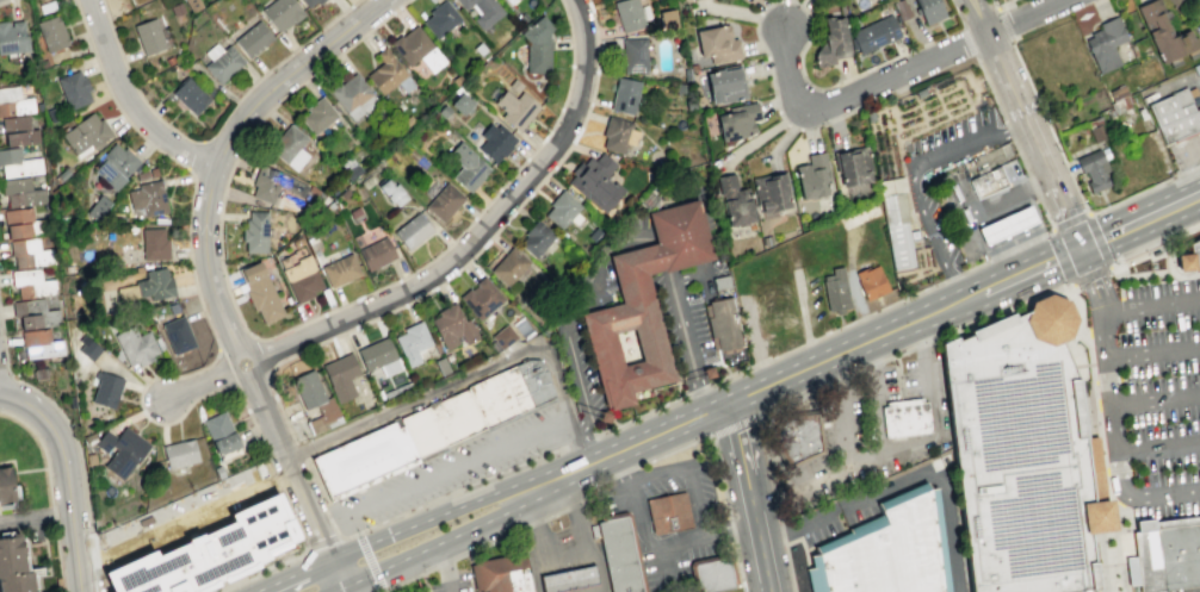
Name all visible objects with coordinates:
building: (511, 0)
road: (2, 1)
building: (1175, 1)
building: (309, 2)
road: (998, 4)
building: (902, 7)
building: (484, 10)
building: (930, 10)
building: (282, 12)
road: (757, 13)
road: (954, 13)
building: (627, 14)
parking lot: (1195, 14)
building: (440, 17)
building: (667, 20)
building: (1163, 31)
building: (874, 32)
building: (51, 33)
building: (12, 36)
building: (148, 36)
building: (254, 38)
building: (833, 38)
building: (717, 42)
building: (538, 43)
building: (1105, 43)
building: (416, 46)
building: (632, 54)
road: (977, 54)
road: (913, 57)
parking lot: (1199, 63)
building: (223, 64)
road: (289, 73)
building: (389, 73)
road: (897, 75)
road: (903, 80)
parking lot: (1198, 80)
building: (724, 82)
building: (74, 88)
road: (1009, 88)
road: (990, 91)
building: (1190, 91)
building: (1117, 92)
building: (353, 94)
building: (624, 94)
building: (190, 95)
building: (505, 98)
road: (129, 100)
building: (13, 101)
building: (460, 104)
building: (443, 110)
building: (520, 110)
building: (316, 112)
building: (1174, 114)
building: (737, 119)
building: (18, 131)
road: (1008, 131)
building: (1099, 131)
building: (614, 132)
road: (214, 133)
building: (86, 135)
building: (495, 142)
building: (289, 147)
road: (1198, 148)
parking lot: (1183, 151)
building: (985, 160)
building: (17, 163)
building: (854, 163)
building: (113, 166)
building: (468, 166)
road: (916, 166)
building: (1093, 169)
building: (352, 172)
building: (146, 173)
building: (62, 174)
building: (811, 174)
building: (595, 180)
building: (986, 181)
building: (271, 183)
road: (1072, 183)
building: (21, 191)
building: (391, 191)
building: (771, 191)
building: (147, 198)
building: (734, 199)
building: (444, 201)
building: (97, 207)
building: (562, 207)
road: (1064, 212)
building: (355, 214)
parking lot: (940, 218)
road: (1140, 222)
building: (23, 223)
building: (897, 224)
building: (1007, 225)
building: (413, 230)
building: (255, 231)
road: (476, 233)
road: (493, 233)
building: (536, 236)
building: (153, 243)
road: (1156, 247)
traffic signals: (1081, 250)
road: (1004, 251)
building: (1153, 251)
building: (1194, 251)
building: (30, 253)
building: (376, 253)
road: (661, 253)
road: (1162, 254)
building: (1183, 262)
building: (508, 264)
road: (595, 266)
building: (340, 269)
road: (191, 272)
road: (1142, 272)
road: (1020, 275)
road: (1183, 275)
building: (302, 278)
road: (1093, 280)
building: (870, 281)
building: (31, 282)
road: (1072, 285)
building: (148, 286)
road: (955, 288)
building: (260, 289)
building: (835, 289)
building: (481, 297)
road: (858, 303)
building: (642, 304)
road: (1150, 305)
parking lot: (689, 309)
building: (32, 312)
road: (804, 317)
road: (862, 317)
building: (451, 325)
road: (291, 328)
building: (723, 329)
road: (836, 329)
building: (177, 335)
building: (503, 335)
building: (412, 341)
road: (685, 341)
road: (808, 342)
building: (39, 343)
building: (137, 345)
building: (87, 347)
road: (915, 347)
road: (843, 349)
road: (1152, 351)
building: (376, 353)
road: (259, 356)
building: (447, 357)
road: (755, 364)
road: (243, 366)
building: (440, 366)
road: (228, 370)
road: (5, 373)
road: (576, 374)
building: (340, 375)
road: (1106, 379)
building: (533, 380)
road: (203, 382)
road: (445, 384)
building: (105, 390)
parking lot: (1149, 391)
road: (698, 392)
building: (497, 395)
road: (1153, 399)
building: (315, 400)
road: (935, 405)
road: (878, 412)
road: (731, 413)
building: (456, 417)
road: (639, 417)
building: (903, 417)
road: (1090, 417)
road: (284, 418)
road: (571, 424)
road: (735, 424)
road: (583, 425)
road: (255, 428)
building: (421, 431)
building: (219, 432)
road: (761, 437)
building: (798, 437)
road: (1102, 437)
road: (1112, 441)
road: (579, 442)
road: (75, 443)
road: (42, 447)
road: (1157, 447)
road: (583, 448)
building: (120, 450)
road: (625, 450)
road: (674, 450)
building: (179, 453)
building: (1022, 454)
road: (62, 456)
building: (361, 457)
road: (772, 457)
road: (848, 462)
road: (456, 465)
parking lot: (458, 466)
road: (743, 466)
road: (17, 471)
road: (689, 472)
road: (625, 473)
road: (722, 476)
road: (902, 478)
building: (5, 485)
road: (595, 485)
road: (186, 497)
road: (571, 505)
parking lot: (858, 507)
road: (415, 510)
building: (667, 512)
road: (553, 513)
road: (336, 515)
road: (1097, 516)
road: (35, 518)
road: (320, 518)
road: (426, 519)
road: (185, 521)
road: (533, 523)
road: (1167, 523)
parking lot: (814, 525)
road: (732, 526)
road: (779, 526)
road: (1125, 529)
road: (438, 542)
road: (321, 543)
road: (488, 543)
road: (802, 543)
road: (655, 546)
road: (569, 548)
road: (86, 549)
road: (303, 549)
road: (760, 549)
building: (885, 549)
building: (209, 552)
building: (619, 553)
building: (1164, 553)
building: (12, 554)
road: (370, 561)
road: (444, 562)
road: (662, 562)
road: (589, 563)
road: (740, 565)
road: (445, 566)
road: (549, 569)
road: (340, 571)
road: (76, 572)
road: (291, 574)
building: (500, 574)
building: (712, 574)
road: (408, 578)
building: (567, 579)
building: (17, 581)
parking lot: (446, 581)
road: (340, 587)
road: (352, 587)
road: (378, 591)

